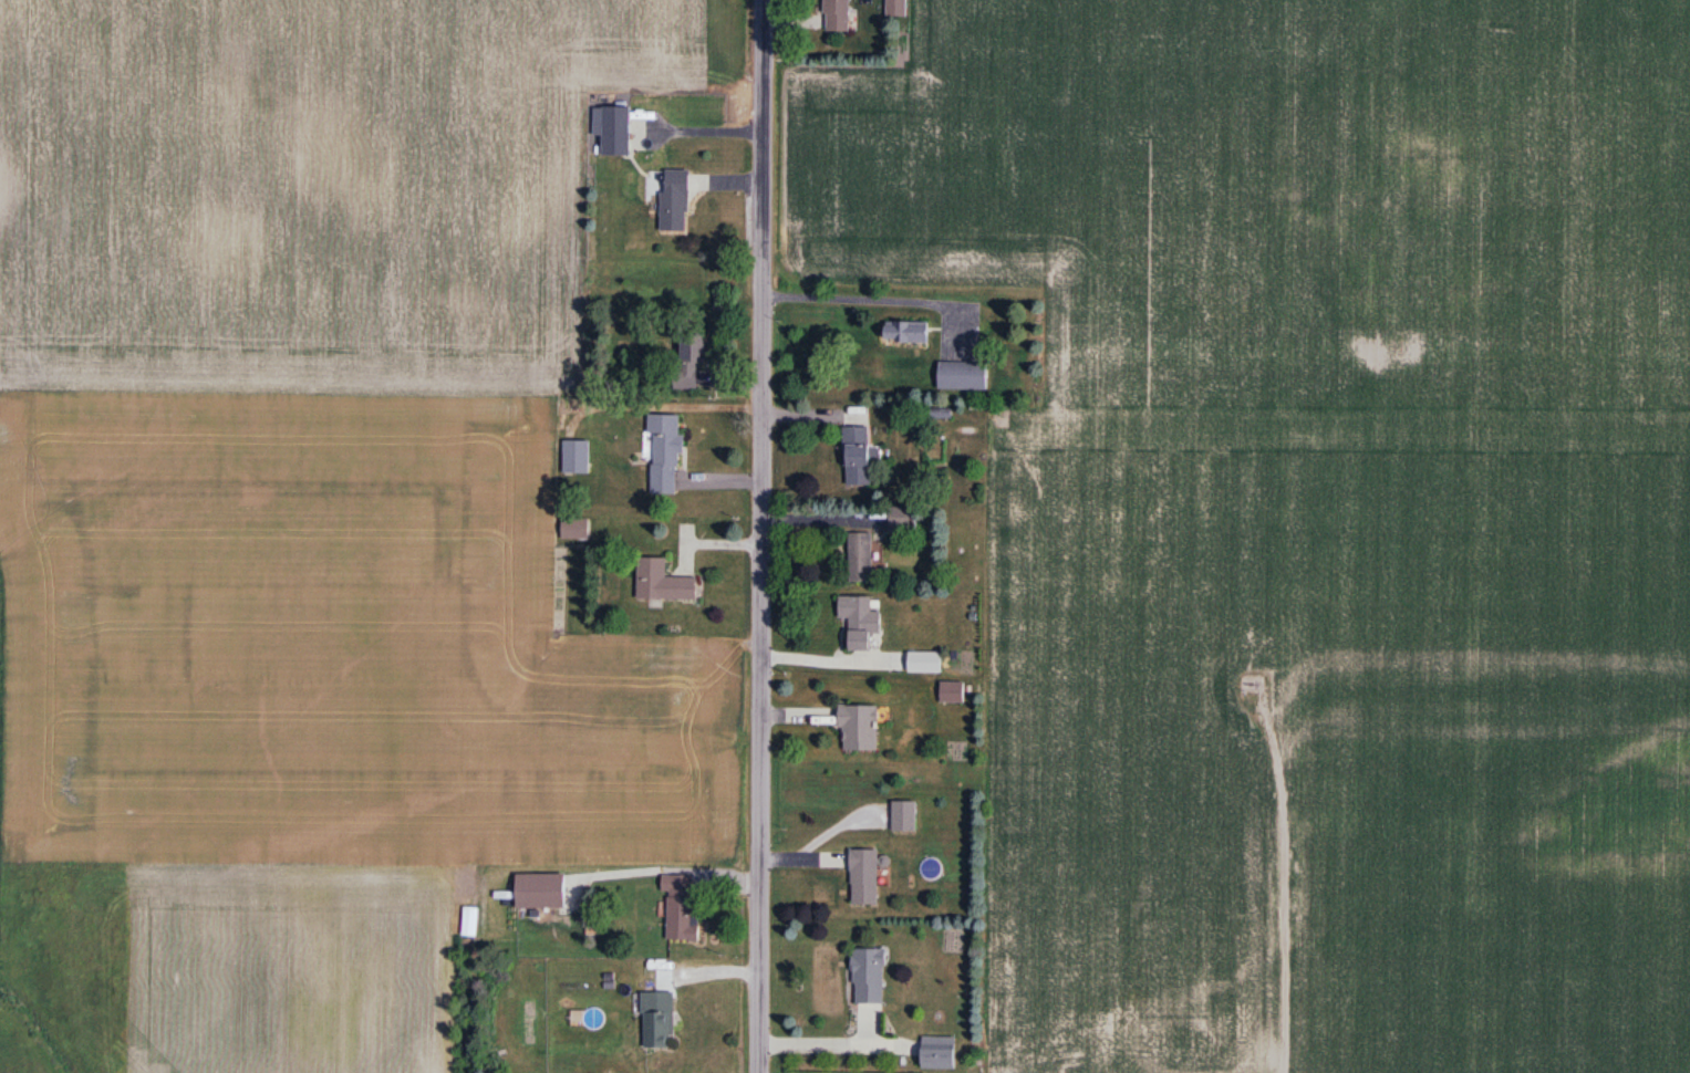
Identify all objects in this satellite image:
building: (896, 8)
building: (837, 15)
building: (613, 131)
building: (675, 201)
road: (867, 304)
building: (906, 332)
building: (690, 362)
building: (963, 376)
building: (665, 455)
building: (577, 457)
building: (858, 457)
building: (902, 518)
building: (576, 529)
road: (757, 535)
building: (861, 558)
building: (662, 582)
building: (860, 621)
building: (925, 663)
petroleum well: (1269, 683)
building: (859, 729)
building: (904, 817)
building: (864, 878)
road: (1276, 886)
building: (540, 892)
building: (681, 908)
building: (869, 978)
building: (659, 1022)
building: (939, 1054)

